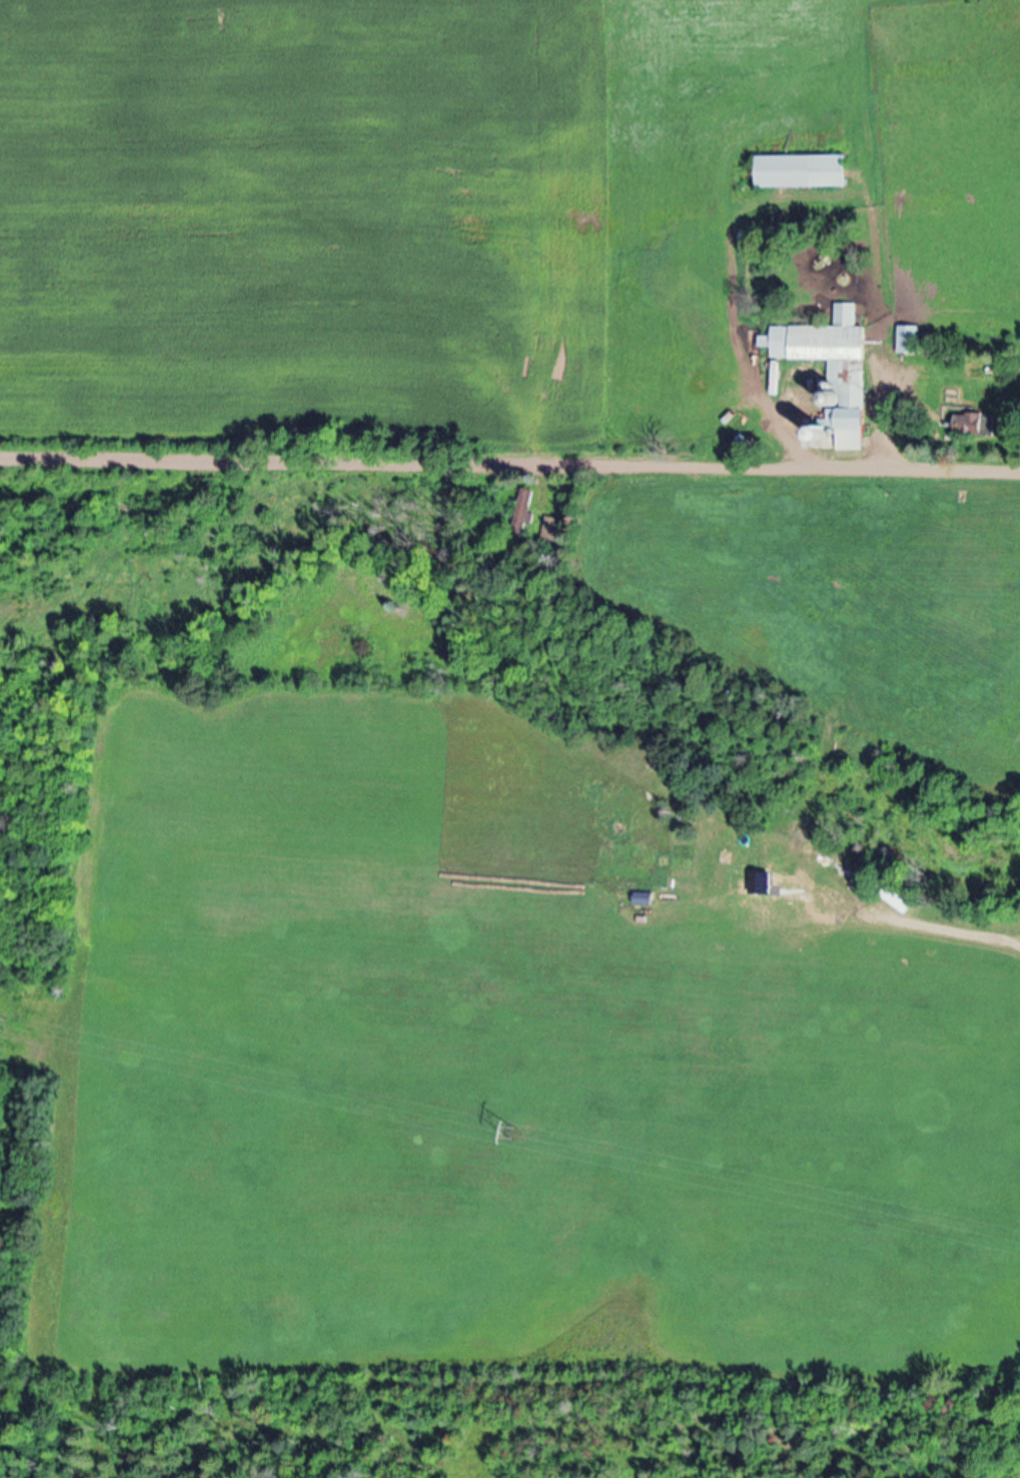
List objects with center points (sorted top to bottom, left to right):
building: (806, 174)
building: (912, 342)
building: (827, 345)
building: (779, 381)
building: (970, 425)
building: (842, 433)
road: (510, 442)
building: (527, 507)
building: (557, 530)
power tower: (7, 1027)
power tower: (511, 1134)

